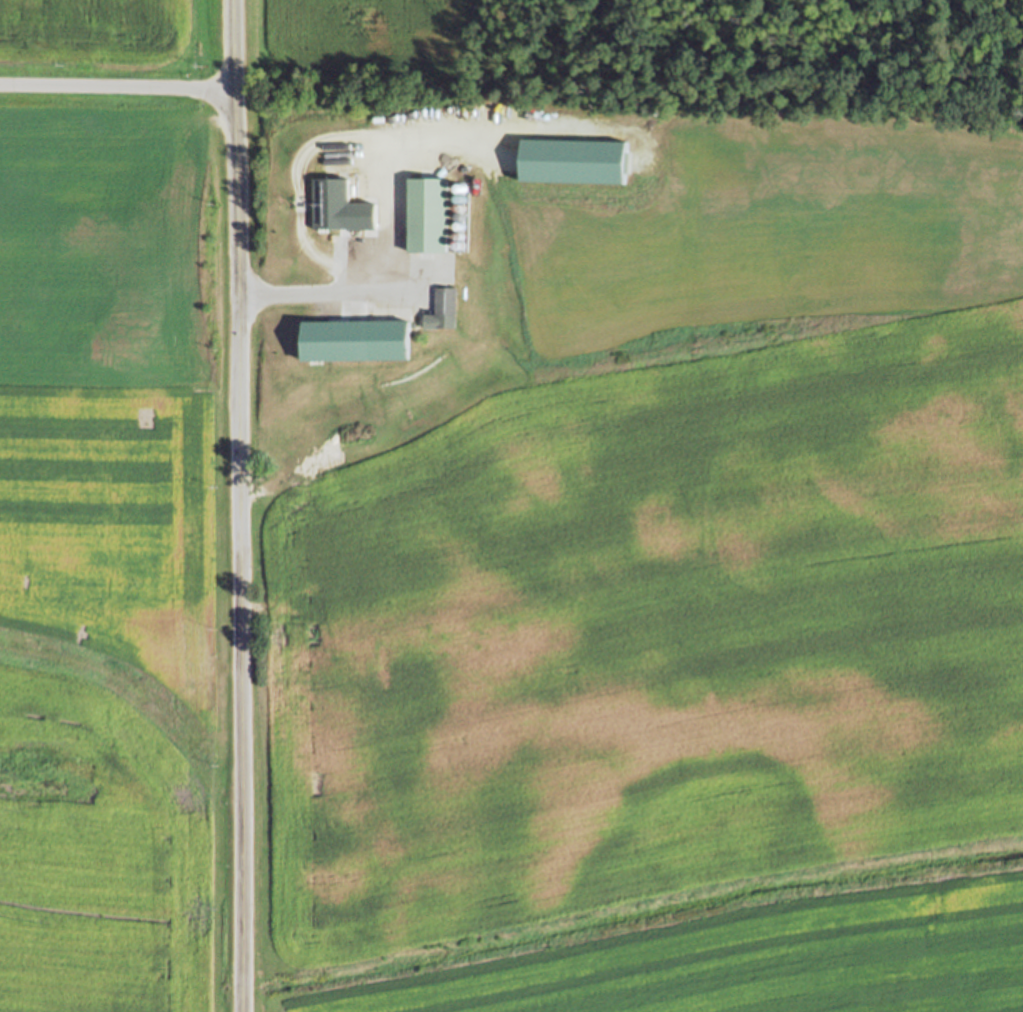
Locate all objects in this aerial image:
road: (116, 88)
road: (567, 123)
building: (573, 162)
building: (338, 206)
building: (428, 214)
building: (442, 308)
building: (353, 339)
road: (239, 505)

